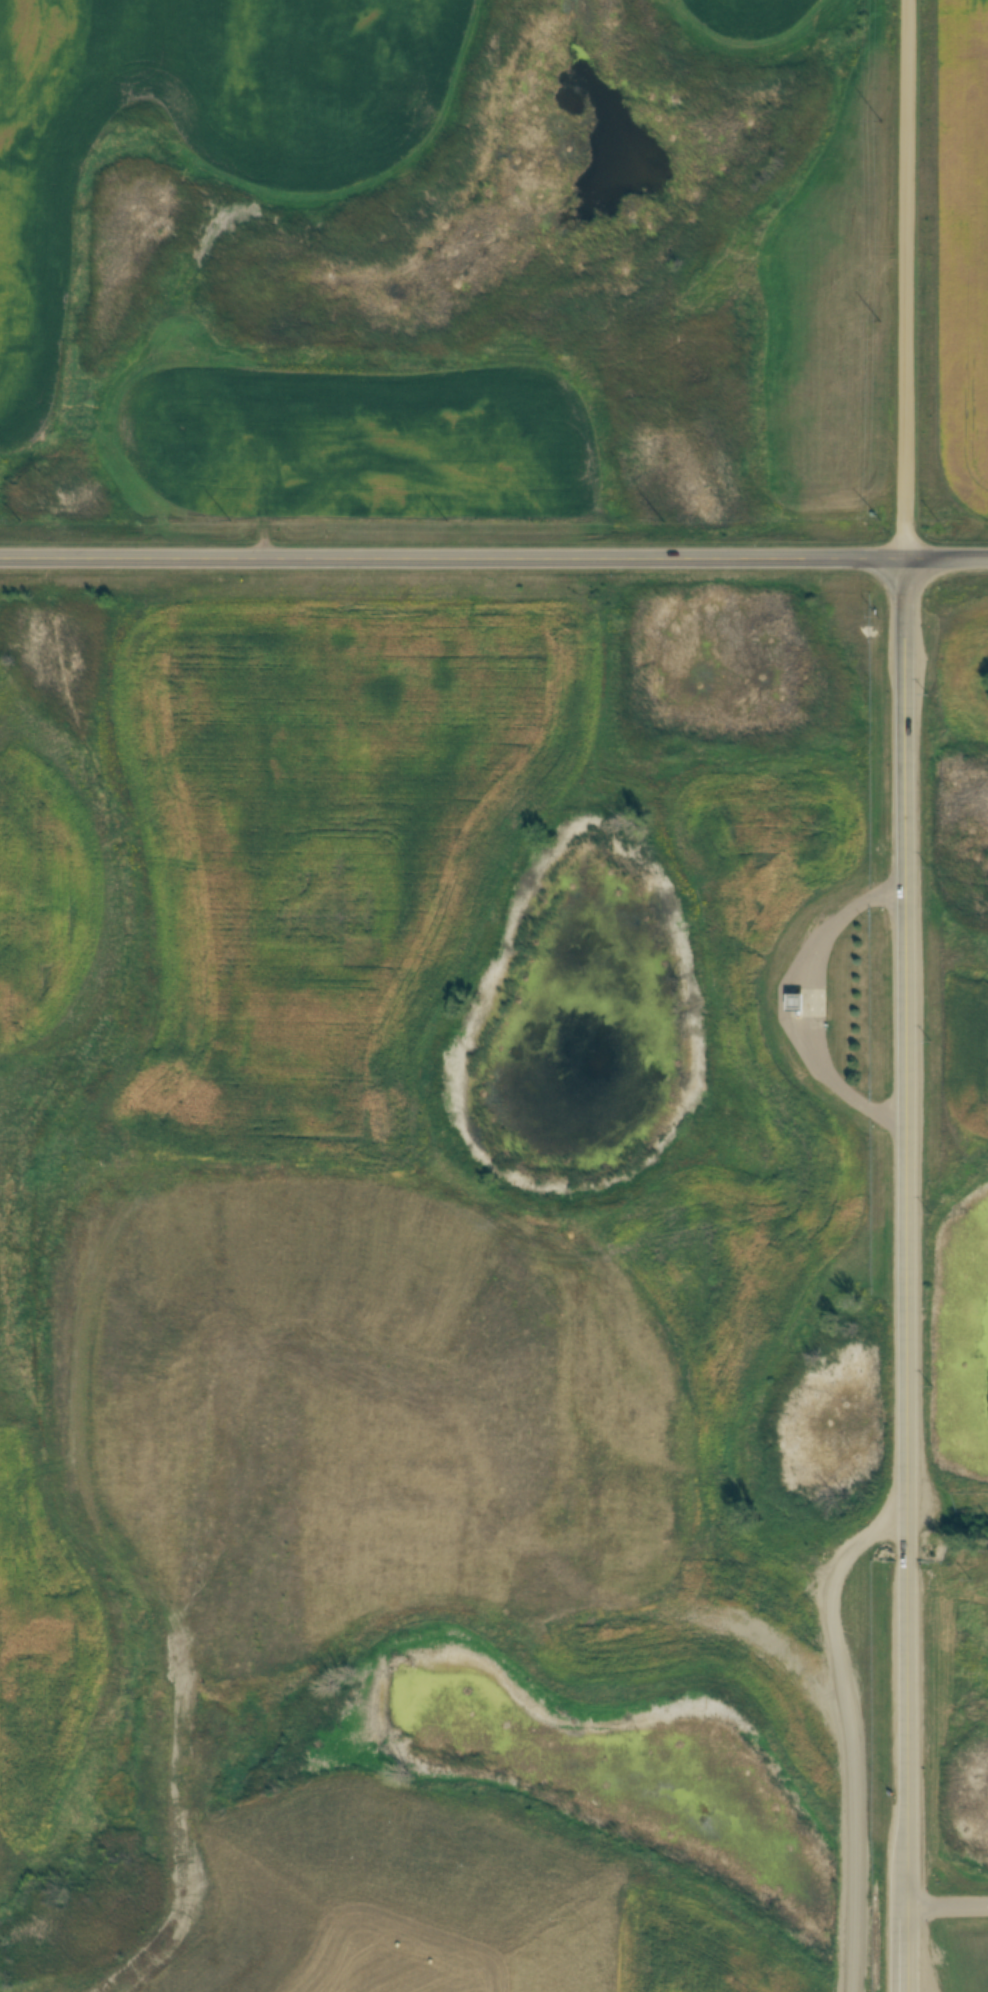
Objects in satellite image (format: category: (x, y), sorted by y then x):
road: (494, 558)
road: (905, 995)
building: (814, 996)
road: (781, 1003)
road: (948, 1908)

